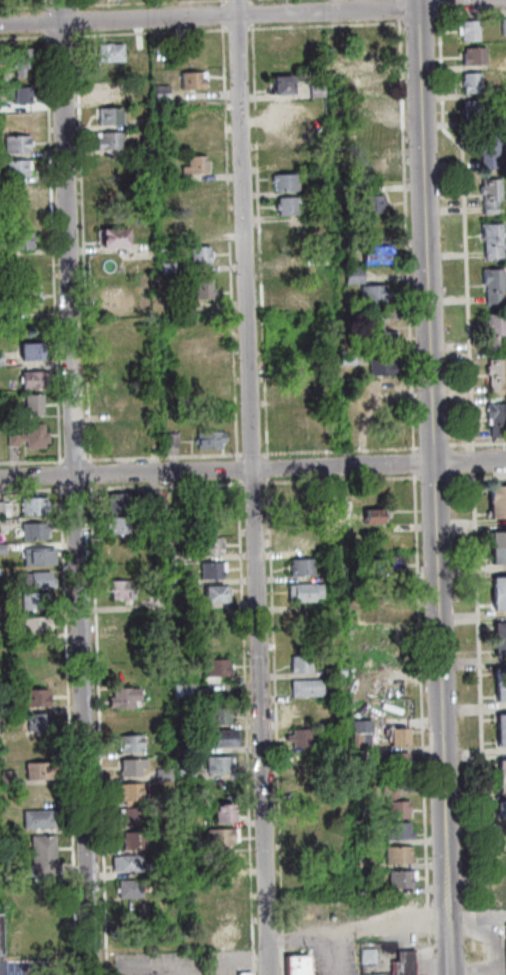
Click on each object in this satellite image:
road: (427, 0)
road: (131, 2)
road: (250, 2)
road: (220, 3)
road: (61, 4)
road: (74, 4)
road: (25, 5)
road: (43, 5)
road: (437, 5)
road: (396, 9)
road: (468, 12)
road: (250, 13)
road: (220, 14)
road: (208, 15)
road: (417, 19)
road: (74, 20)
road: (43, 21)
road: (323, 26)
building: (502, 26)
road: (235, 29)
building: (467, 31)
road: (149, 32)
road: (60, 36)
road: (24, 37)
building: (282, 39)
building: (368, 47)
building: (108, 53)
building: (472, 56)
building: (20, 61)
building: (335, 69)
building: (190, 81)
building: (365, 82)
building: (469, 82)
building: (281, 86)
building: (314, 90)
building: (108, 92)
building: (159, 93)
building: (16, 94)
building: (369, 106)
building: (287, 108)
building: (470, 111)
building: (108, 116)
building: (24, 118)
building: (371, 130)
building: (285, 132)
building: (195, 139)
building: (106, 140)
building: (14, 143)
building: (486, 150)
building: (347, 154)
building: (285, 156)
building: (112, 163)
building: (193, 165)
building: (369, 167)
building: (13, 169)
building: (162, 174)
building: (281, 183)
building: (317, 188)
building: (15, 192)
building: (200, 192)
building: (488, 195)
building: (369, 203)
building: (286, 207)
building: (24, 215)
road: (462, 227)
building: (319, 228)
road: (404, 235)
building: (286, 237)
building: (112, 238)
building: (18, 240)
road: (228, 240)
road: (258, 240)
building: (490, 241)
road: (81, 246)
road: (51, 248)
building: (198, 256)
building: (376, 256)
building: (23, 264)
building: (290, 264)
building: (165, 268)
building: (351, 275)
building: (490, 285)
building: (201, 289)
building: (371, 294)
building: (28, 295)
building: (288, 295)
building: (323, 304)
building: (6, 312)
building: (377, 318)
building: (30, 324)
building: (492, 330)
building: (380, 339)
building: (29, 351)
building: (345, 359)
building: (295, 364)
building: (379, 367)
building: (493, 375)
building: (32, 379)
building: (295, 389)
building: (207, 393)
building: (116, 397)
building: (31, 404)
building: (150, 412)
building: (494, 419)
building: (26, 437)
building: (122, 437)
building: (300, 437)
building: (169, 440)
building: (207, 440)
road: (475, 443)
road: (431, 446)
road: (337, 449)
road: (249, 453)
road: (161, 456)
road: (73, 459)
road: (31, 460)
road: (470, 461)
road: (411, 463)
road: (235, 468)
road: (265, 468)
road: (252, 469)
road: (88, 472)
road: (58, 473)
road: (431, 477)
road: (475, 477)
road: (338, 479)
road: (252, 482)
road: (163, 485)
road: (74, 487)
road: (251, 487)
road: (432, 487)
road: (74, 488)
road: (31, 489)
building: (295, 495)
building: (495, 495)
building: (170, 498)
building: (205, 498)
building: (153, 499)
building: (125, 501)
building: (31, 506)
building: (0, 509)
building: (4, 509)
building: (496, 511)
building: (370, 517)
building: (1, 525)
building: (120, 525)
building: (34, 530)
building: (497, 541)
building: (305, 542)
building: (212, 545)
building: (2, 548)
building: (174, 555)
building: (497, 556)
building: (34, 557)
building: (386, 565)
building: (299, 567)
building: (213, 569)
building: (176, 579)
building: (36, 580)
building: (498, 586)
building: (123, 588)
building: (216, 592)
building: (301, 593)
building: (33, 600)
building: (153, 602)
building: (498, 602)
building: (331, 610)
building: (33, 624)
building: (306, 629)
building: (498, 632)
building: (3, 633)
building: (216, 641)
building: (498, 648)
building: (41, 653)
building: (298, 664)
building: (336, 670)
building: (215, 671)
building: (499, 678)
building: (304, 687)
building: (394, 688)
building: (182, 689)
building: (500, 694)
building: (124, 696)
building: (33, 697)
building: (300, 711)
building: (219, 715)
building: (129, 717)
road: (244, 718)
building: (35, 721)
building: (500, 723)
road: (419, 724)
road: (275, 725)
road: (478, 725)
road: (97, 728)
road: (66, 729)
building: (225, 737)
building: (297, 738)
building: (396, 738)
building: (500, 738)
building: (358, 740)
building: (130, 742)
building: (184, 746)
building: (302, 760)
building: (392, 762)
building: (218, 764)
building: (132, 765)
building: (501, 769)
building: (37, 771)
building: (184, 774)
building: (161, 775)
building: (5, 778)
building: (501, 785)
building: (302, 786)
building: (223, 788)
building: (130, 791)
building: (38, 793)
building: (391, 800)
building: (338, 807)
building: (501, 811)
building: (223, 813)
building: (132, 815)
building: (161, 819)
building: (35, 820)
building: (395, 832)
building: (223, 836)
building: (162, 837)
building: (134, 839)
building: (396, 854)
building: (41, 857)
building: (223, 859)
building: (504, 861)
building: (128, 862)
building: (361, 864)
building: (402, 879)
building: (224, 886)
building: (129, 889)
building: (505, 893)
building: (50, 915)
road: (491, 917)
road: (374, 923)
road: (463, 923)
road: (499, 932)
building: (3, 935)
building: (225, 935)
building: (372, 955)
parking lot: (187, 963)
building: (408, 963)
building: (301, 964)
road: (254, 965)
road: (195, 966)
parking lot: (38, 968)
road: (185, 971)
road: (477, 971)
building: (246, 973)
road: (255, 973)
road: (54, 974)

